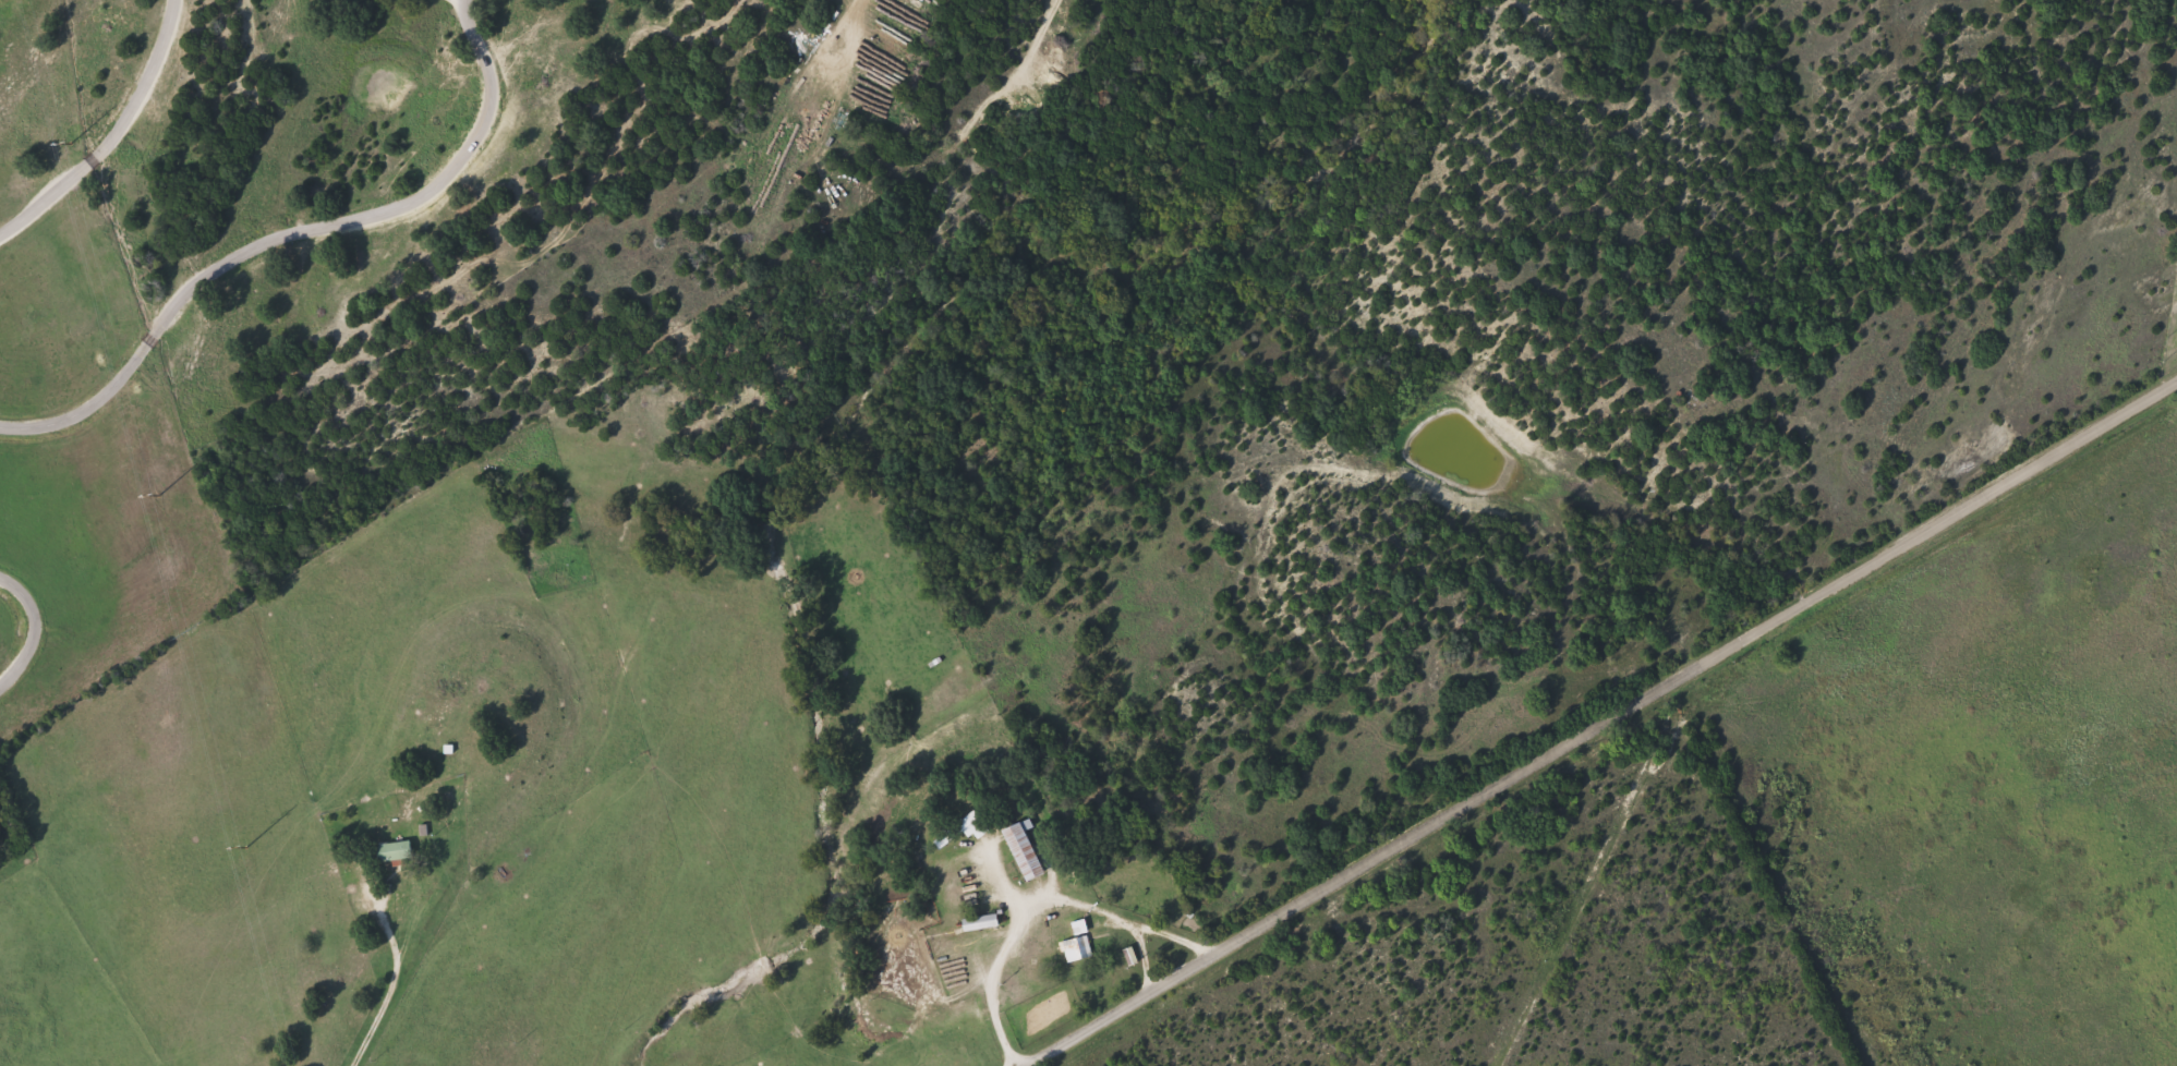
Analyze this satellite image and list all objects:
road: (1040, 44)
road: (104, 134)
road: (282, 232)
road: (35, 620)
road: (1596, 727)
building: (965, 829)
building: (396, 851)
building: (1025, 851)
road: (1039, 901)
building: (982, 922)
building: (1078, 947)
road: (1142, 957)
road: (397, 986)

